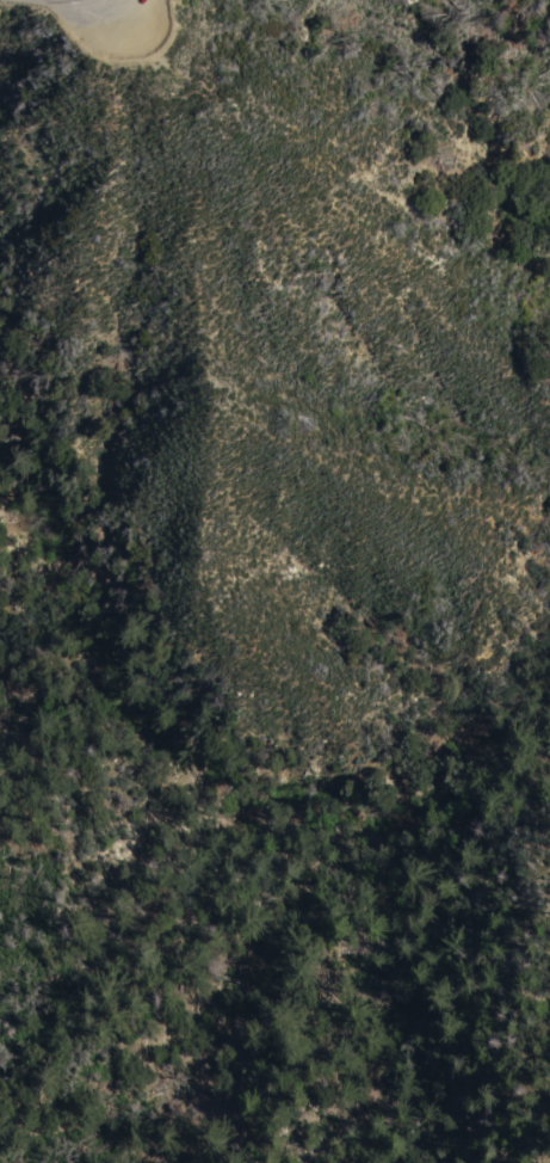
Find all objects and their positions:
parking lot: (112, 26)

